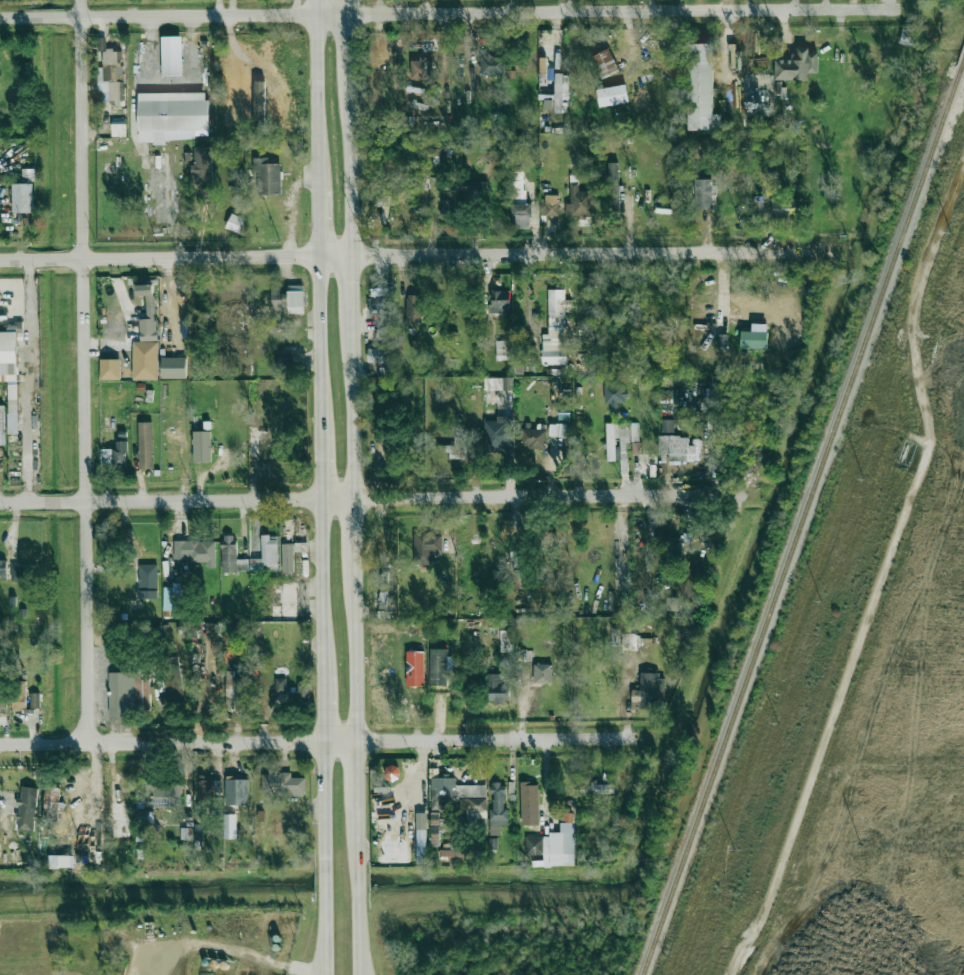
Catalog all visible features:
road: (316, 5)
road: (345, 5)
road: (450, 9)
building: (907, 35)
road: (346, 45)
building: (172, 55)
building: (605, 63)
railway: (963, 63)
building: (542, 64)
building: (492, 65)
building: (796, 65)
building: (420, 68)
parking lot: (170, 69)
building: (111, 77)
building: (701, 88)
building: (560, 91)
building: (612, 95)
road: (317, 100)
building: (548, 103)
building: (168, 116)
building: (119, 130)
building: (202, 166)
road: (349, 168)
building: (267, 177)
building: (517, 185)
building: (613, 185)
building: (377, 188)
building: (475, 188)
building: (703, 193)
building: (23, 198)
building: (579, 202)
building: (550, 205)
building: (758, 206)
building: (785, 207)
building: (445, 208)
building: (521, 216)
road: (318, 222)
building: (236, 223)
road: (586, 253)
road: (175, 258)
road: (351, 285)
building: (276, 299)
building: (296, 299)
building: (499, 302)
building: (284, 303)
building: (745, 305)
building: (413, 308)
building: (148, 313)
building: (384, 318)
building: (166, 319)
building: (555, 328)
building: (754, 339)
road: (319, 345)
building: (502, 350)
building: (377, 355)
building: (285, 358)
building: (146, 361)
building: (110, 369)
road: (85, 370)
building: (10, 375)
road: (32, 381)
building: (497, 383)
building: (614, 394)
road: (350, 406)
building: (564, 413)
building: (667, 425)
building: (557, 429)
building: (634, 431)
building: (499, 434)
building: (533, 438)
building: (617, 441)
building: (145, 445)
building: (262, 445)
building: (202, 446)
building: (635, 447)
building: (454, 448)
building: (676, 448)
building: (114, 455)
road: (320, 467)
building: (649, 471)
road: (367, 498)
railway: (803, 520)
road: (351, 529)
building: (431, 545)
building: (196, 550)
building: (269, 553)
building: (231, 555)
building: (287, 557)
building: (3, 568)
road: (880, 572)
building: (22, 573)
building: (384, 578)
building: (516, 578)
building: (147, 581)
road: (321, 587)
building: (173, 597)
building: (507, 639)
building: (646, 643)
road: (352, 649)
building: (439, 666)
building: (542, 673)
building: (280, 685)
building: (231, 688)
building: (497, 689)
building: (303, 690)
building: (649, 691)
building: (129, 693)
building: (35, 700)
building: (3, 702)
building: (18, 702)
road: (323, 707)
road: (322, 738)
road: (355, 773)
building: (282, 784)
building: (596, 788)
building: (209, 789)
building: (236, 791)
building: (164, 795)
building: (461, 798)
building: (529, 803)
building: (50, 804)
building: (122, 808)
building: (498, 808)
building: (26, 809)
building: (0, 812)
building: (229, 826)
building: (434, 832)
building: (186, 833)
road: (357, 837)
building: (421, 838)
building: (555, 844)
building: (461, 852)
road: (325, 856)
building: (66, 861)
road: (359, 920)
road: (19, 946)
road: (219, 949)
road: (321, 957)
road: (364, 957)
building: (6, 973)

